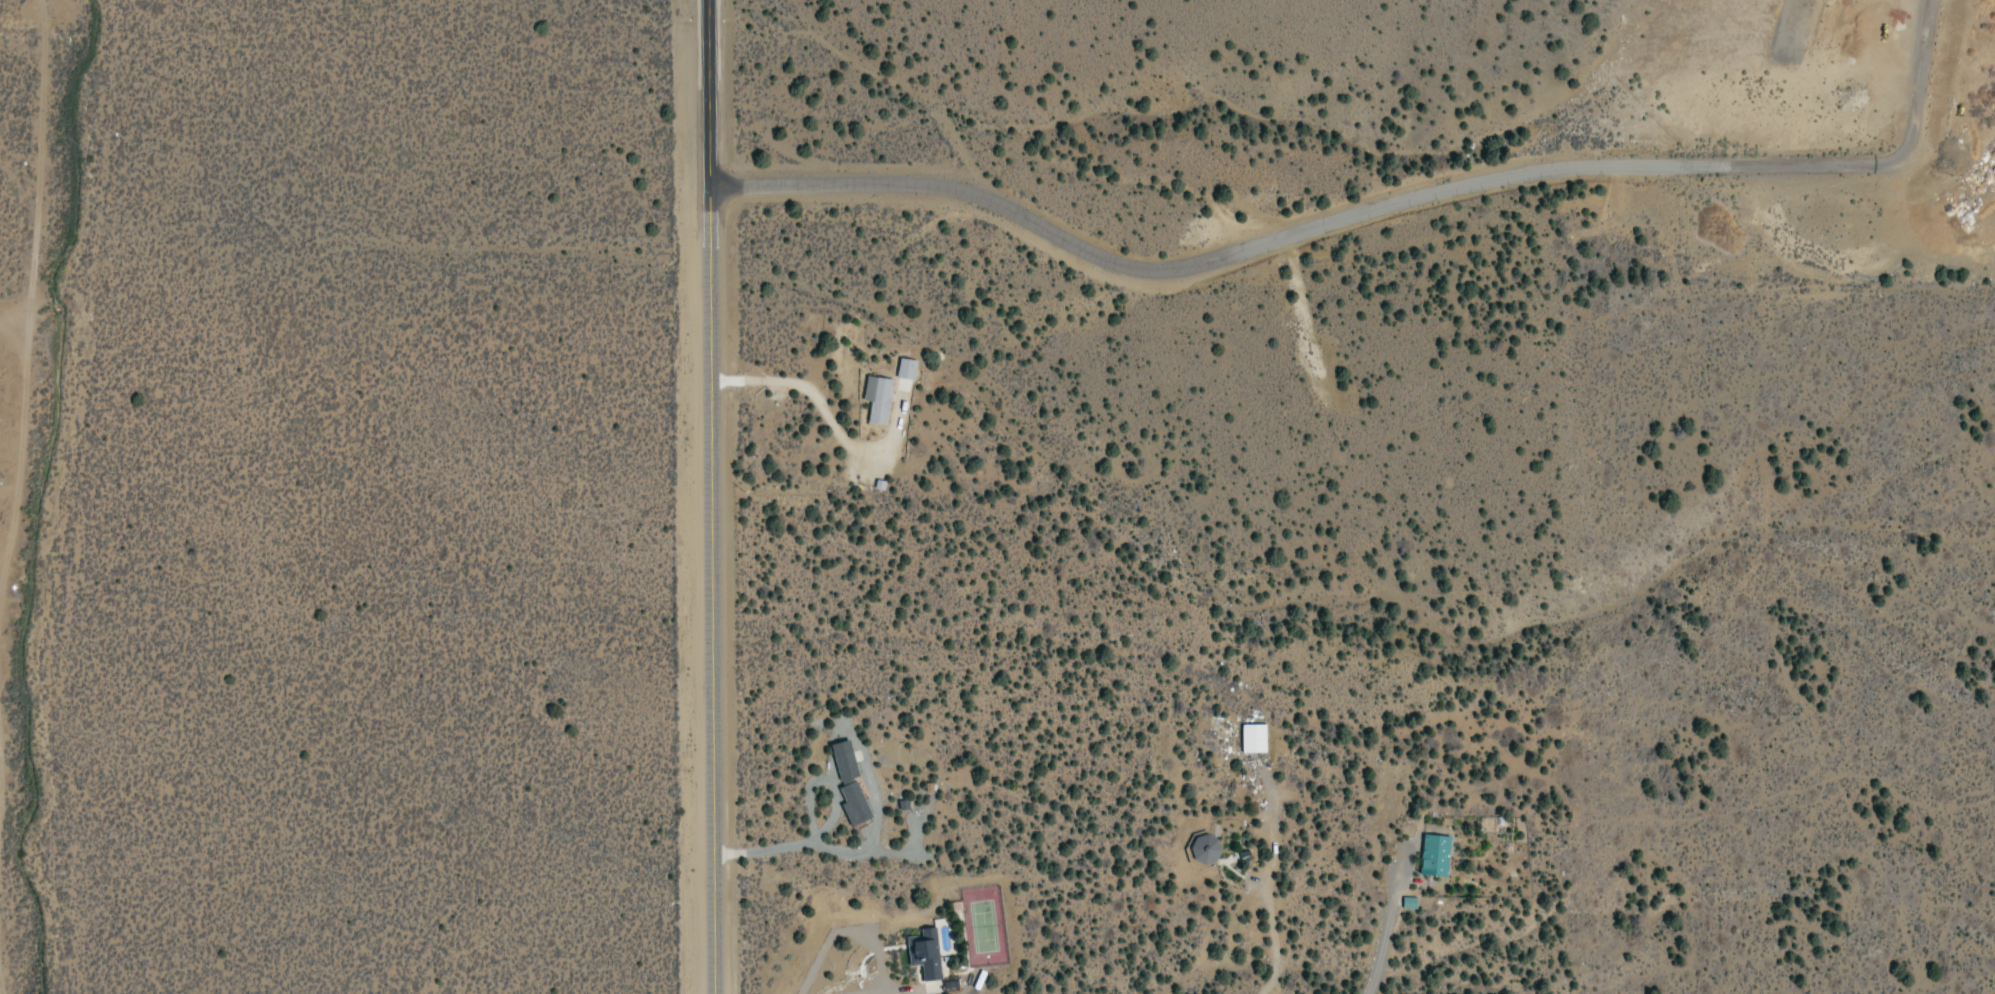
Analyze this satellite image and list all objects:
road: (1912, 95)
road: (1274, 242)
road: (21, 271)
building: (902, 374)
building: (876, 401)
road: (704, 496)
building: (1257, 742)
building: (853, 786)
building: (1201, 850)
building: (1440, 857)
building: (926, 952)

